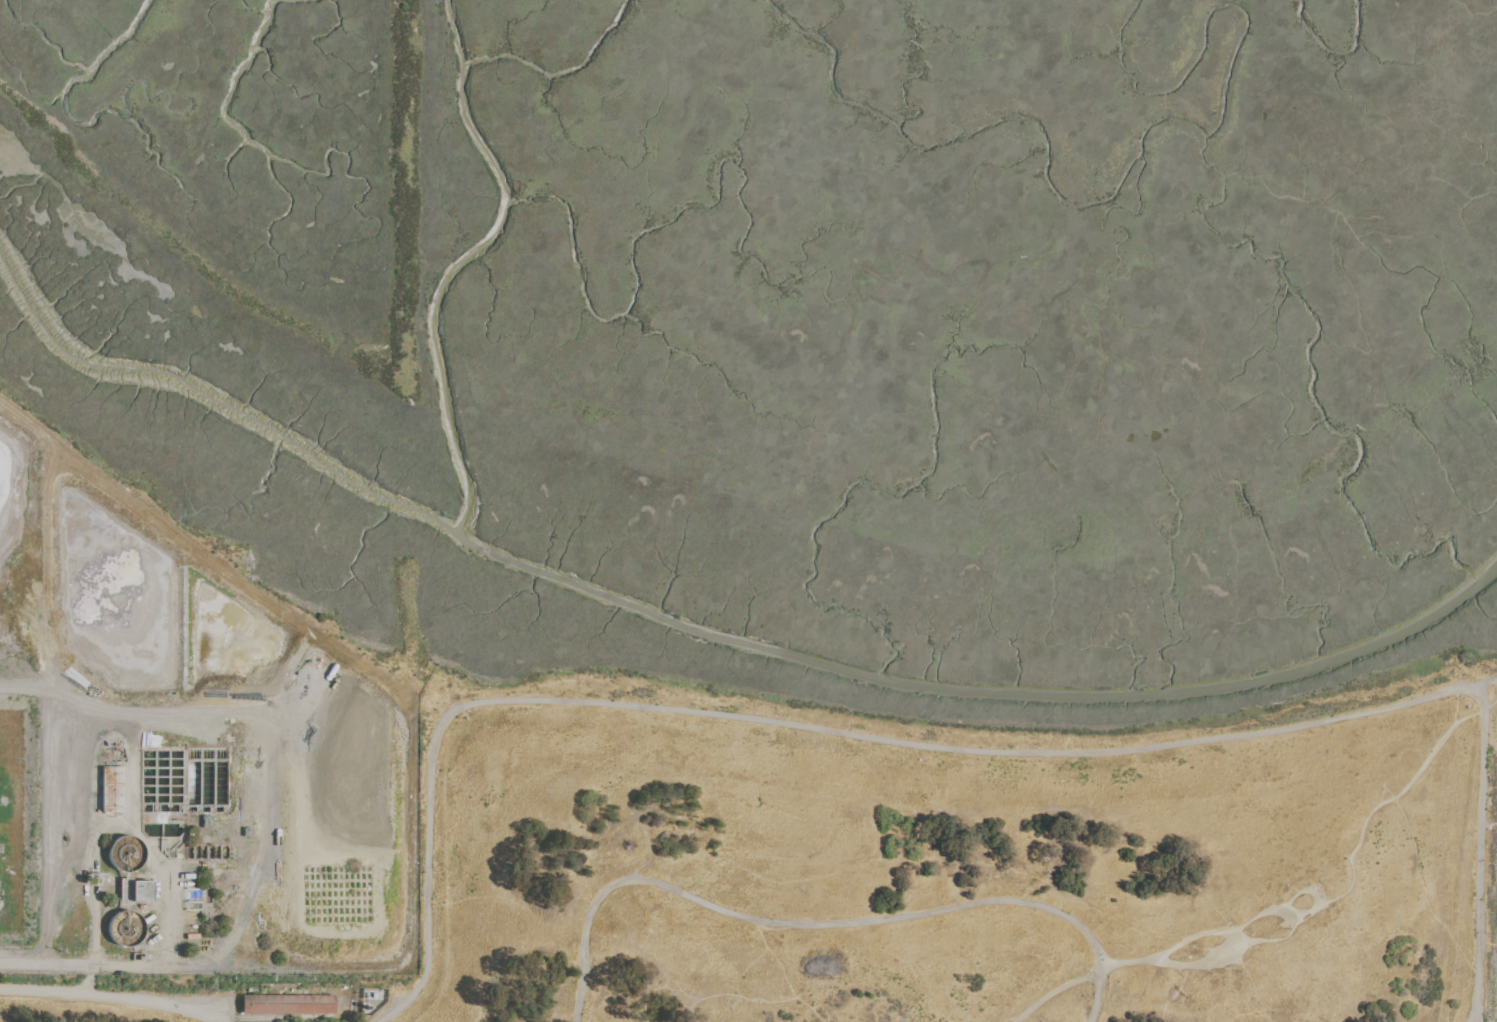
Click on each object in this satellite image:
road: (1485, 681)
road: (1454, 705)
road: (98, 714)
road: (801, 727)
road: (1432, 750)
building: (111, 790)
road: (45, 808)
road: (88, 846)
road: (1480, 854)
road: (1350, 865)
park: (914, 868)
building: (128, 869)
road: (60, 870)
road: (164, 890)
road: (1284, 913)
road: (824, 925)
road: (1239, 926)
building: (125, 929)
road: (1235, 938)
road: (93, 967)
road: (781, 974)
road: (1055, 991)
road: (115, 999)
building: (286, 1004)
road: (1472, 1006)
road: (165, 1009)
road: (1011, 1017)

